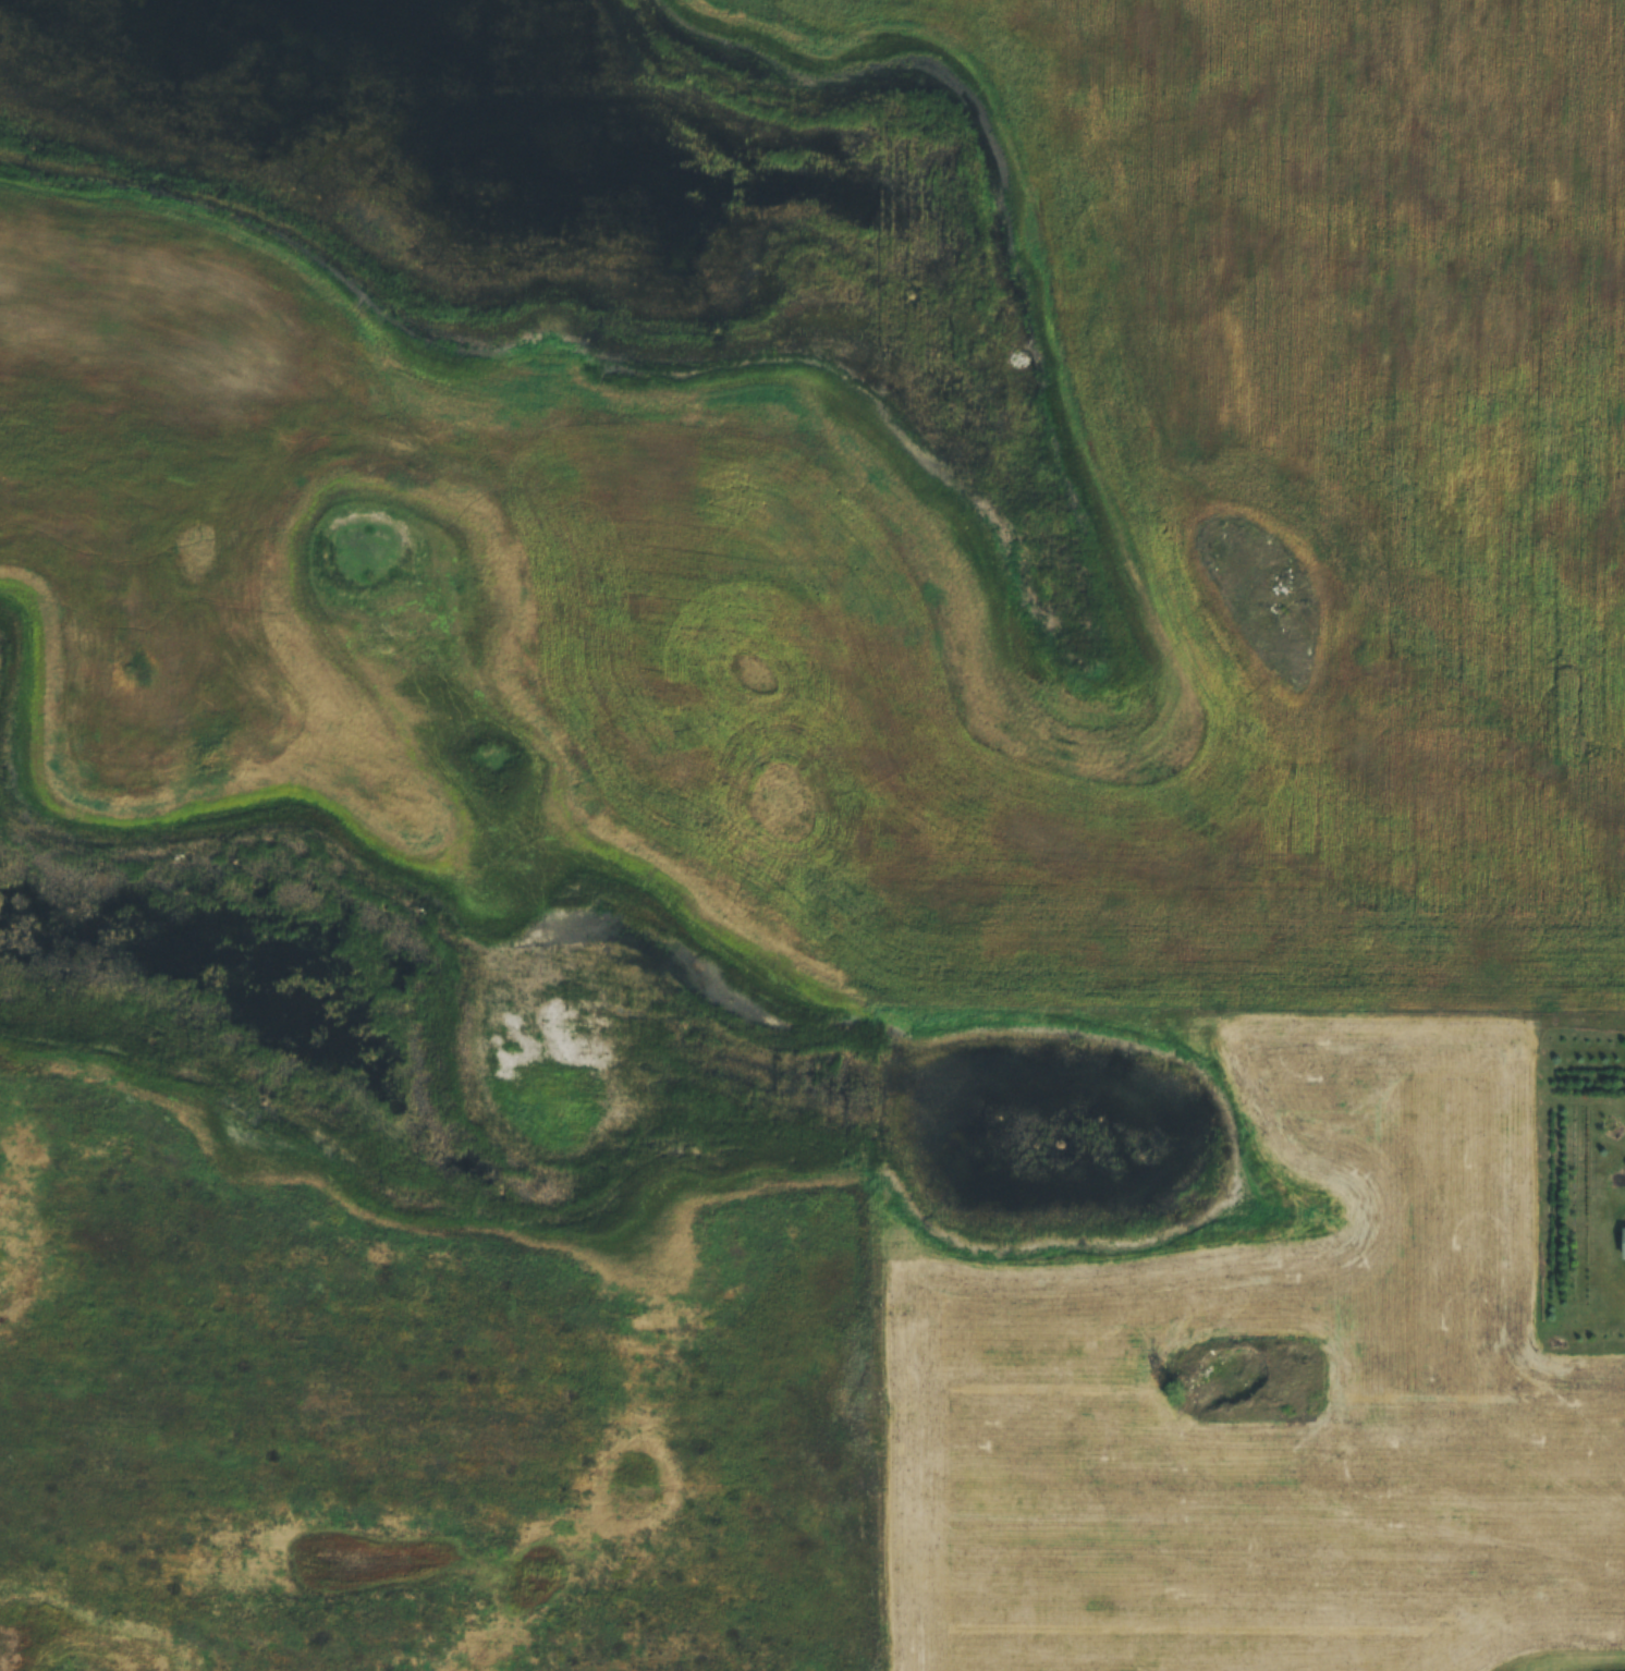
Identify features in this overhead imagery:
building: (1623, 1242)

